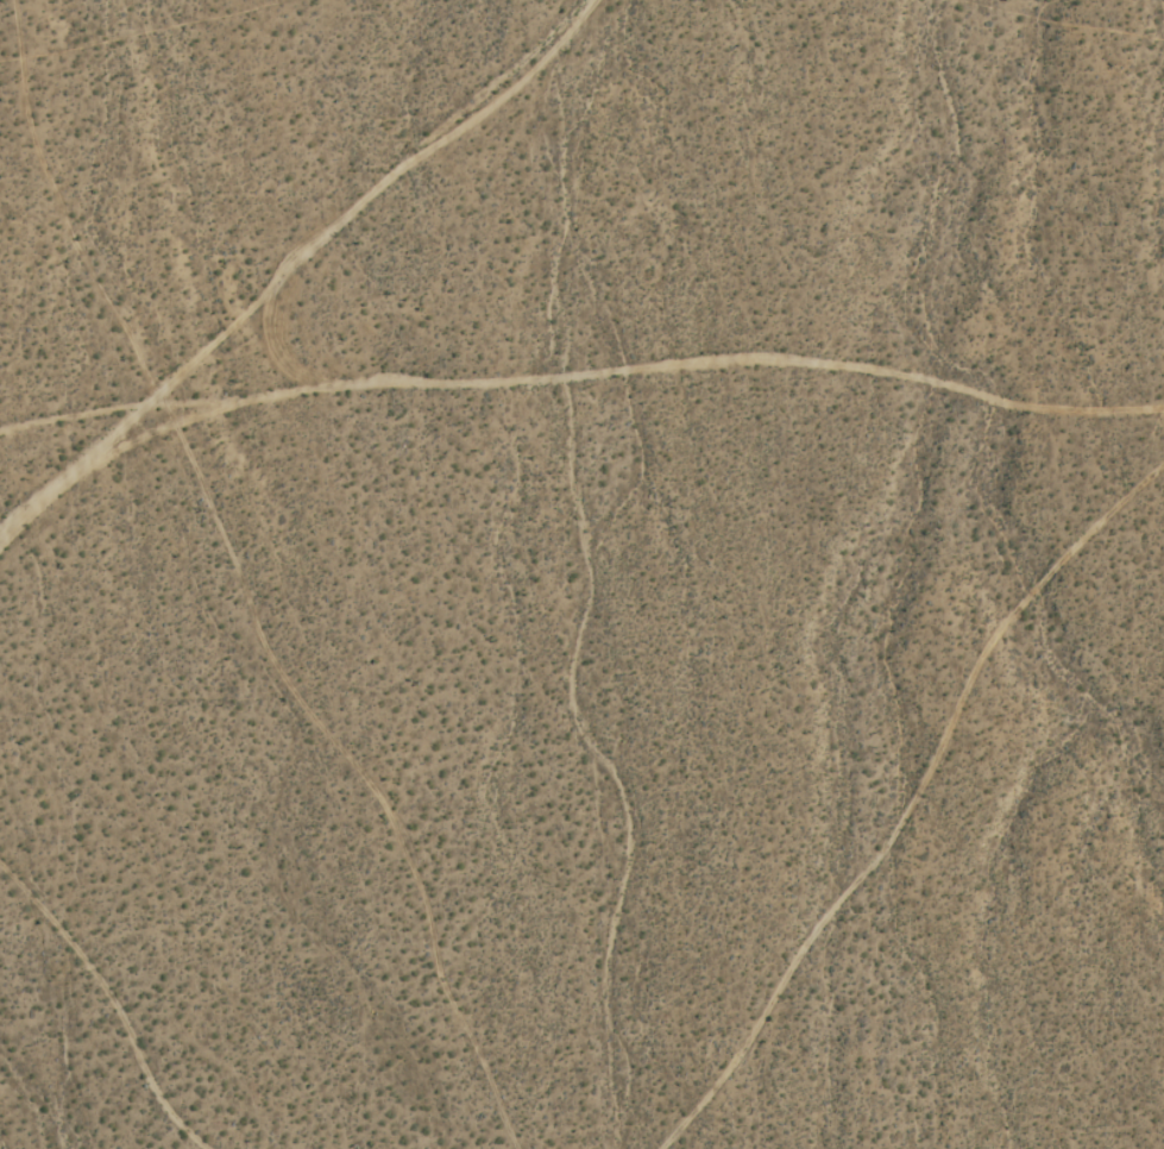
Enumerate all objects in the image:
road: (284, 263)
road: (579, 395)
road: (894, 792)

